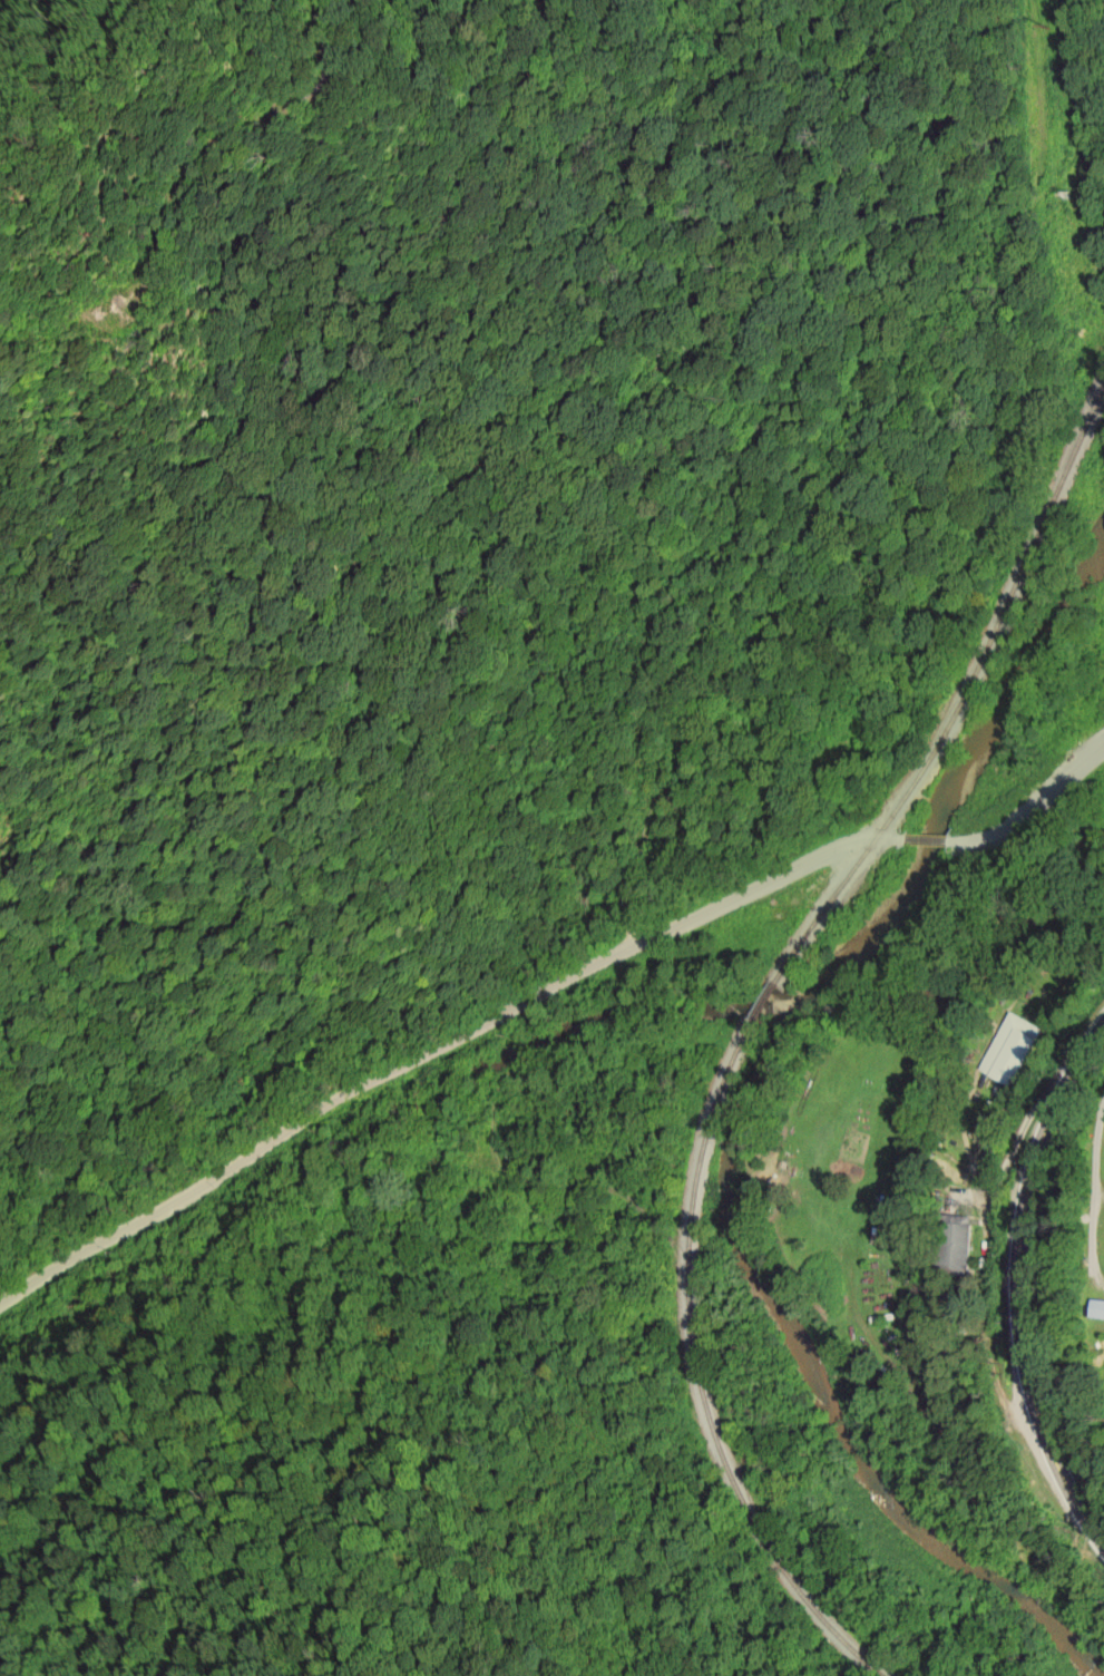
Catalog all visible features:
power tower: (1058, 197)
road: (1030, 807)
road: (924, 838)
railway: (755, 1026)
building: (1008, 1047)
road: (440, 1049)
river: (788, 1124)
building: (957, 1246)
road: (1022, 1282)
road: (1076, 1450)

